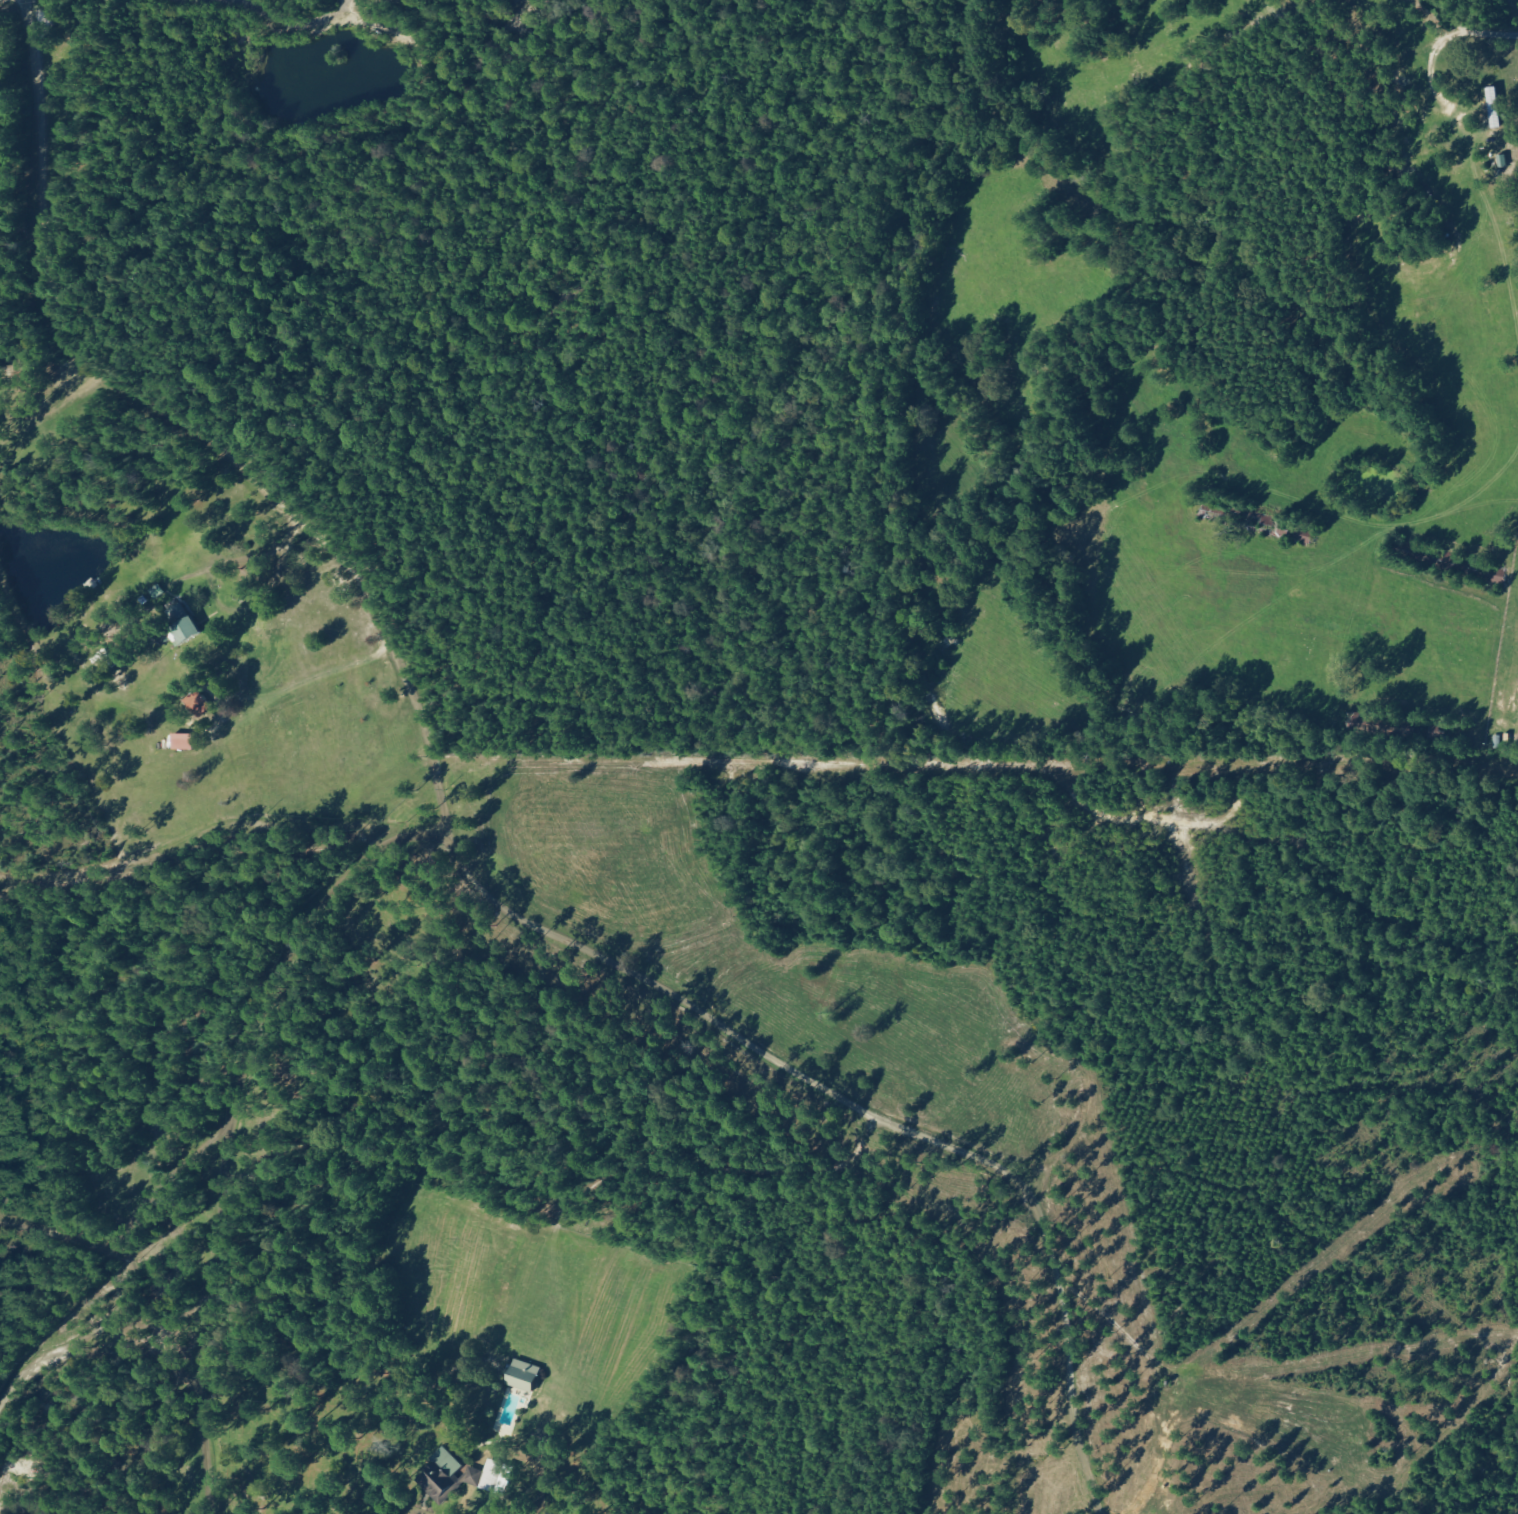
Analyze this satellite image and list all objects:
road: (1470, 28)
road: (2, 68)
building: (180, 612)
building: (186, 631)
building: (184, 742)
road: (413, 817)
building: (524, 1375)
building: (473, 1477)

